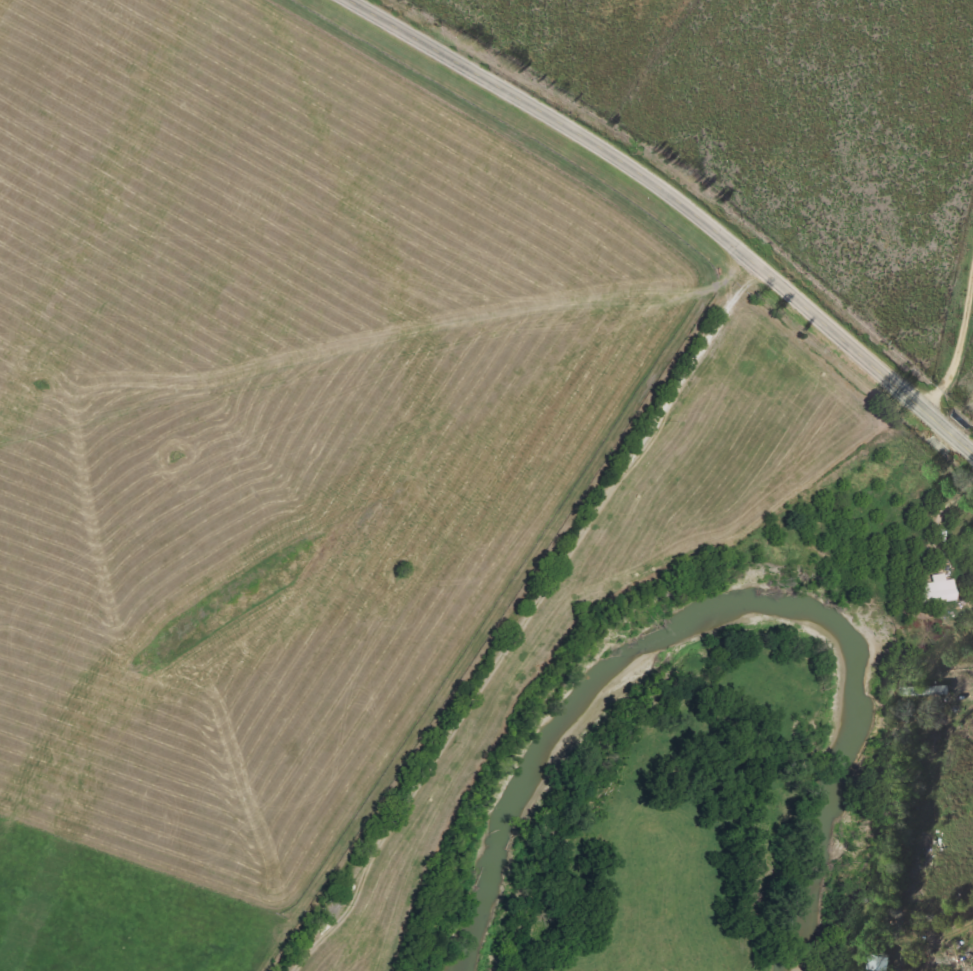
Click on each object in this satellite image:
road: (677, 202)
building: (937, 588)
river: (725, 605)

